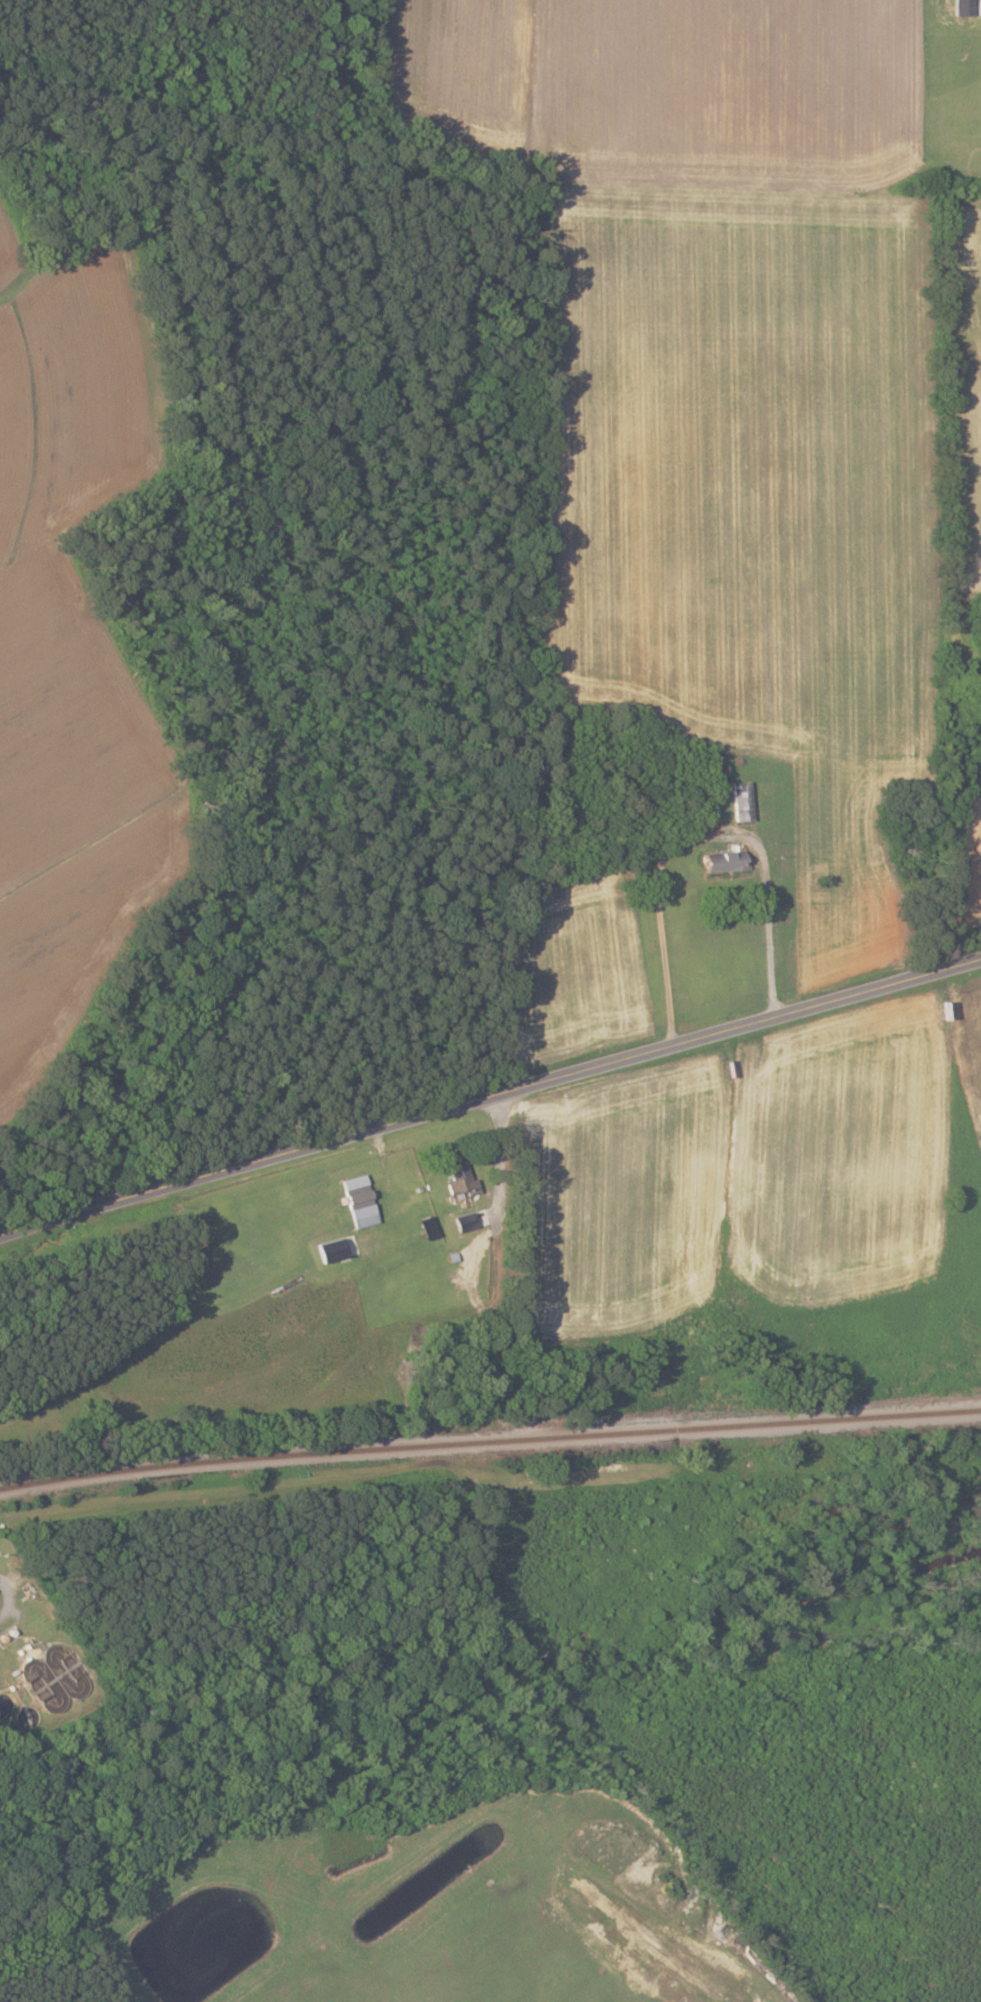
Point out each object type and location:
building: (741, 801)
road: (697, 832)
building: (725, 861)
road: (524, 1084)
building: (457, 1172)
building: (357, 1196)
building: (471, 1220)
road: (33, 1223)
building: (428, 1228)
building: (330, 1250)
railway: (738, 1424)
railway: (247, 1457)
road: (8, 1595)

